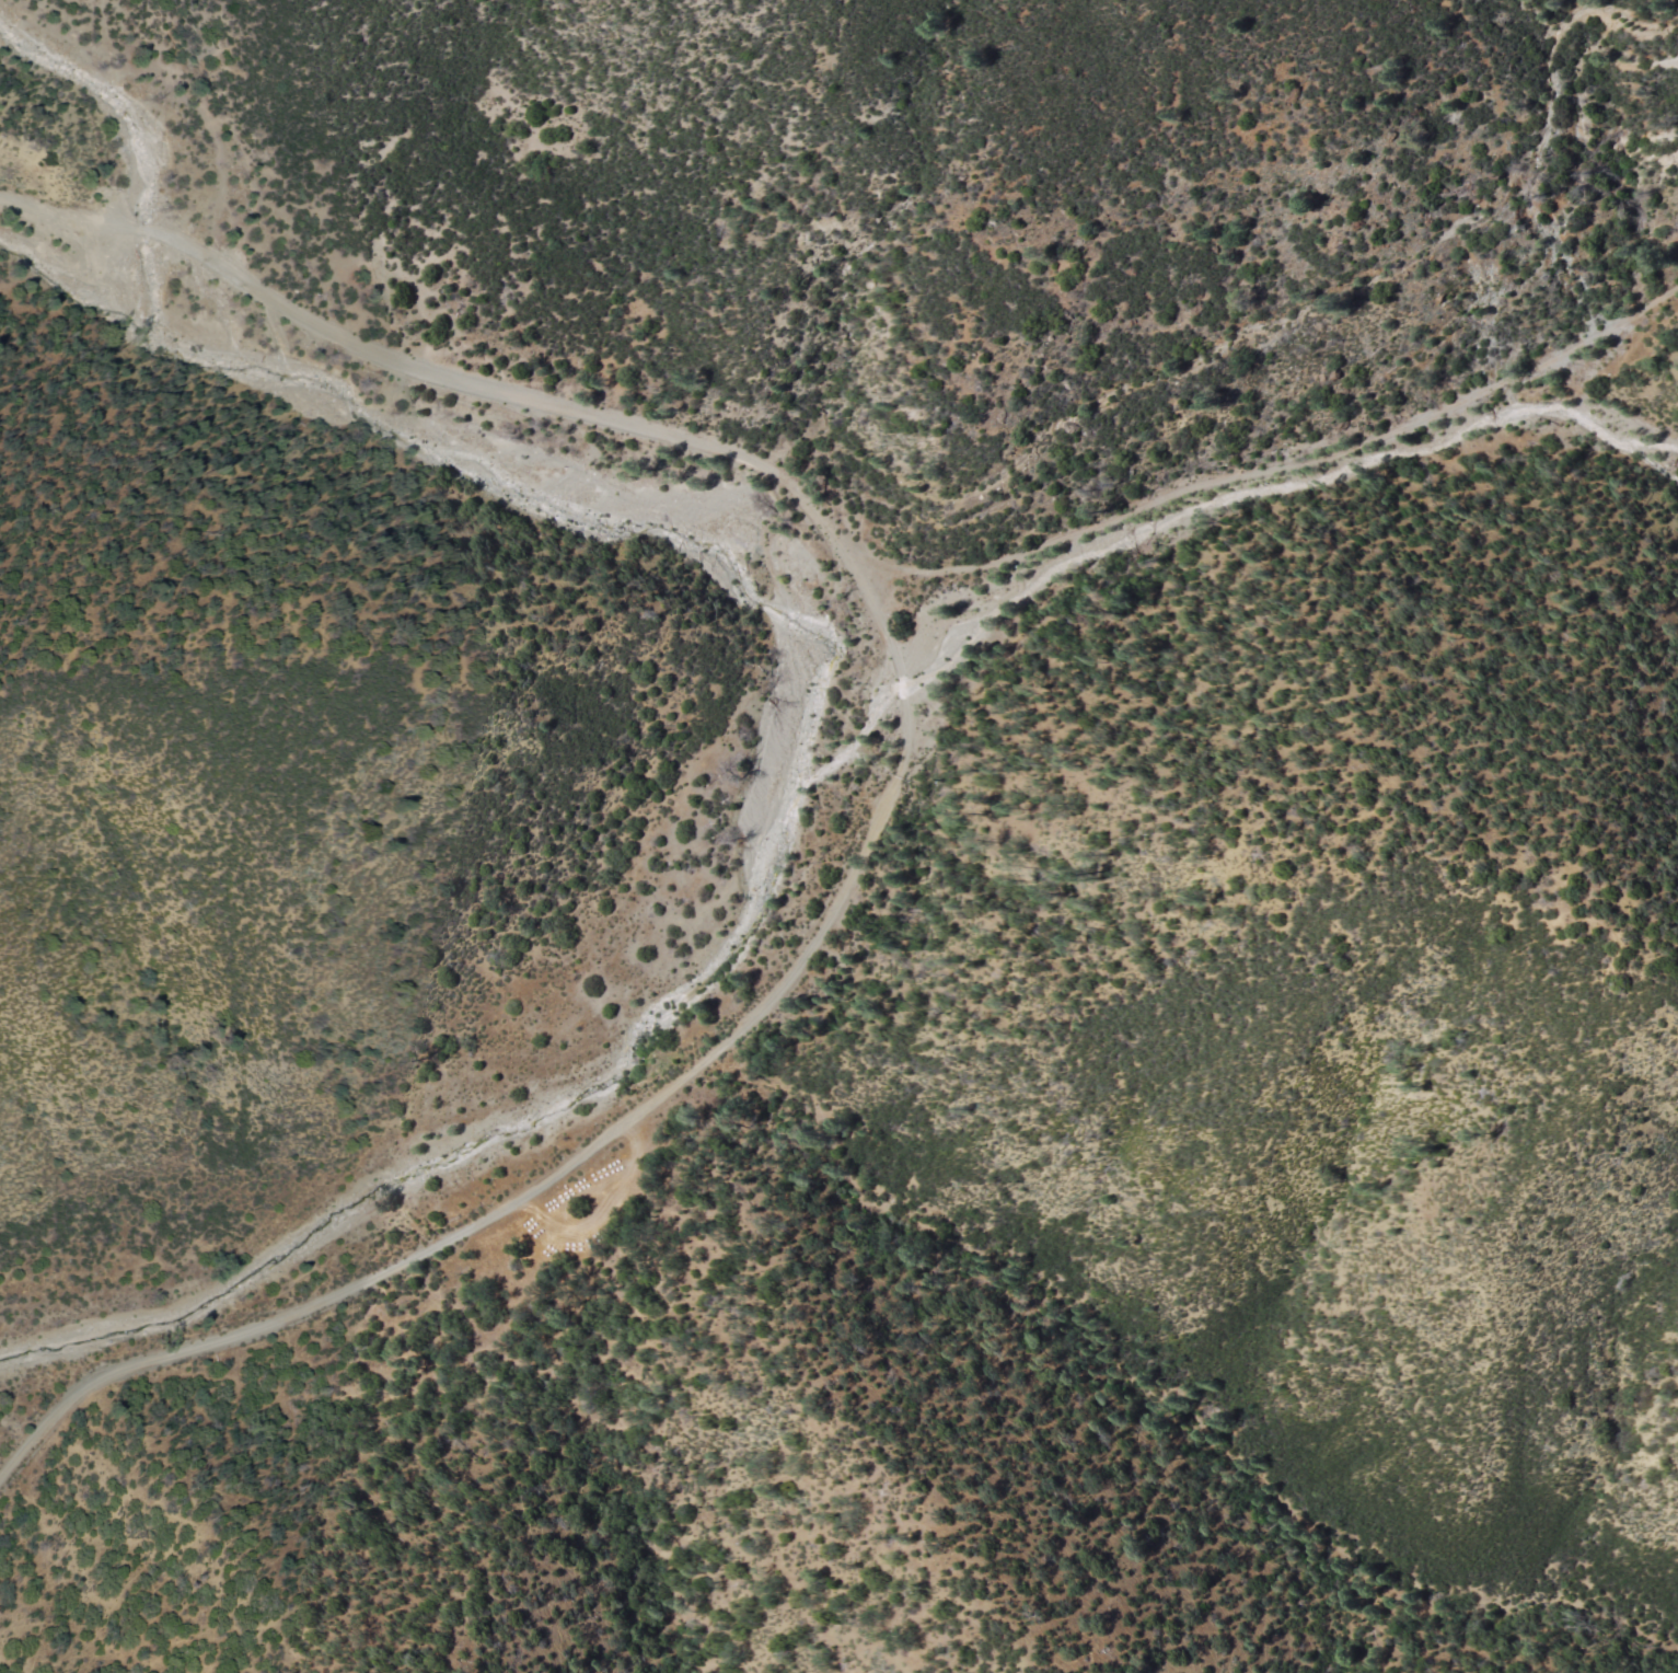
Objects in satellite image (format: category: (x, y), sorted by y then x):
road: (1288, 485)
road: (893, 798)

